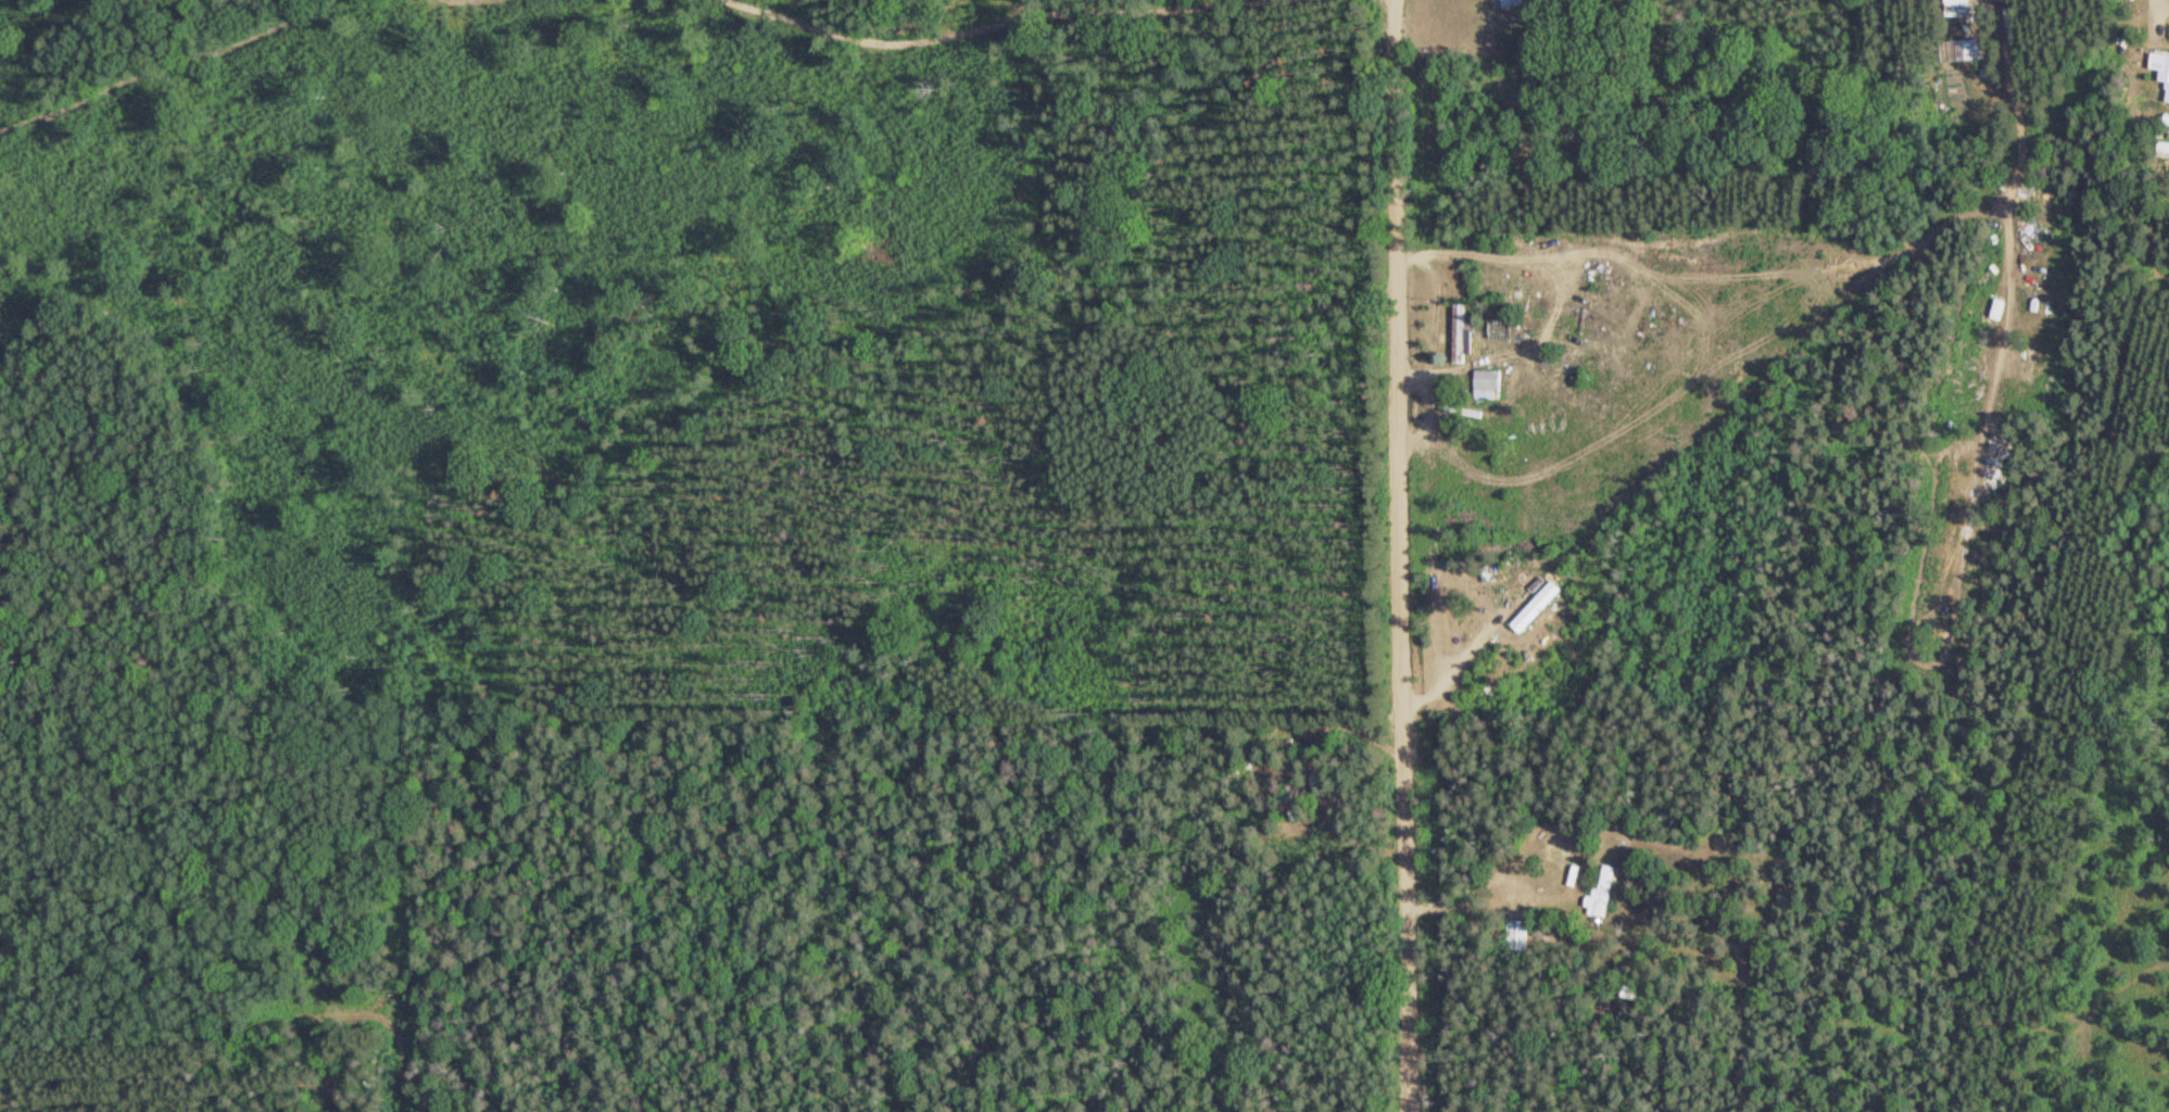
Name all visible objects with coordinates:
building: (1957, 8)
building: (2164, 74)
road: (1389, 555)
building: (1602, 890)
building: (1521, 934)

